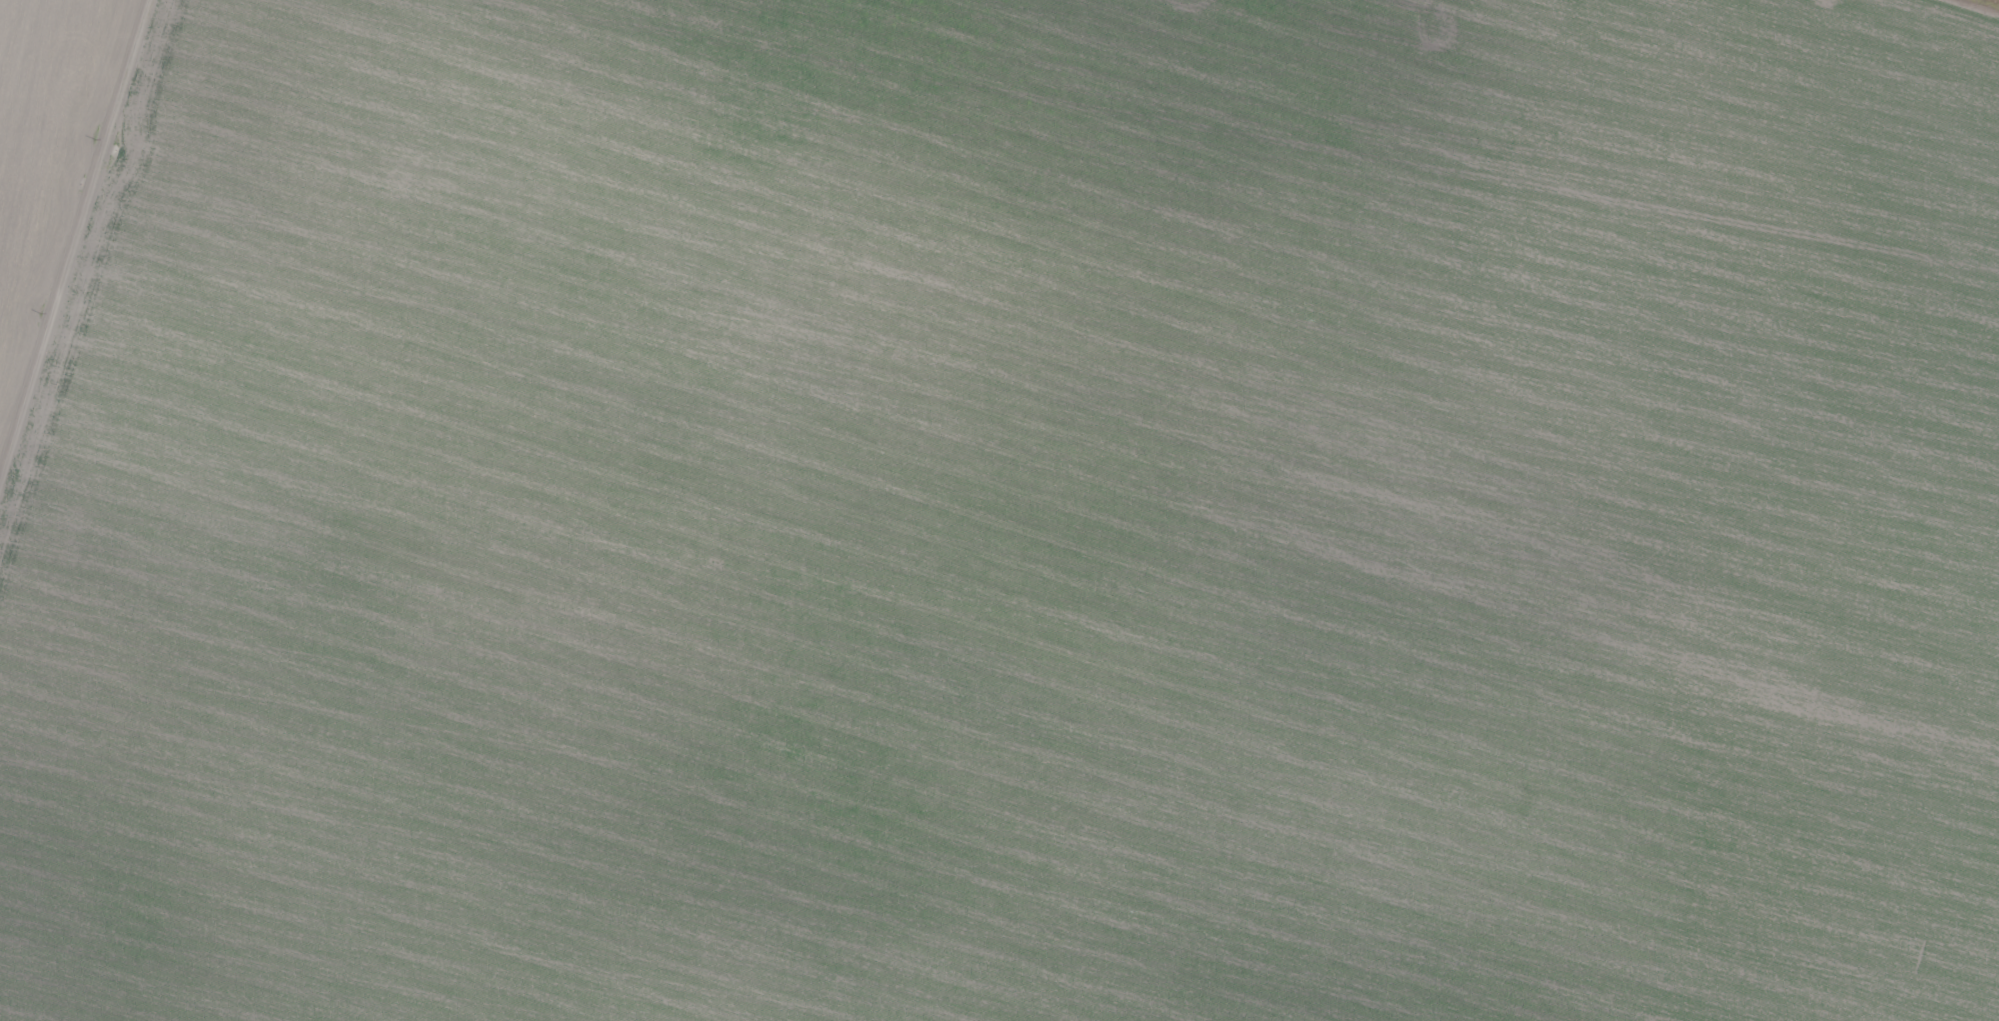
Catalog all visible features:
road: (1974, 7)
road: (80, 253)

